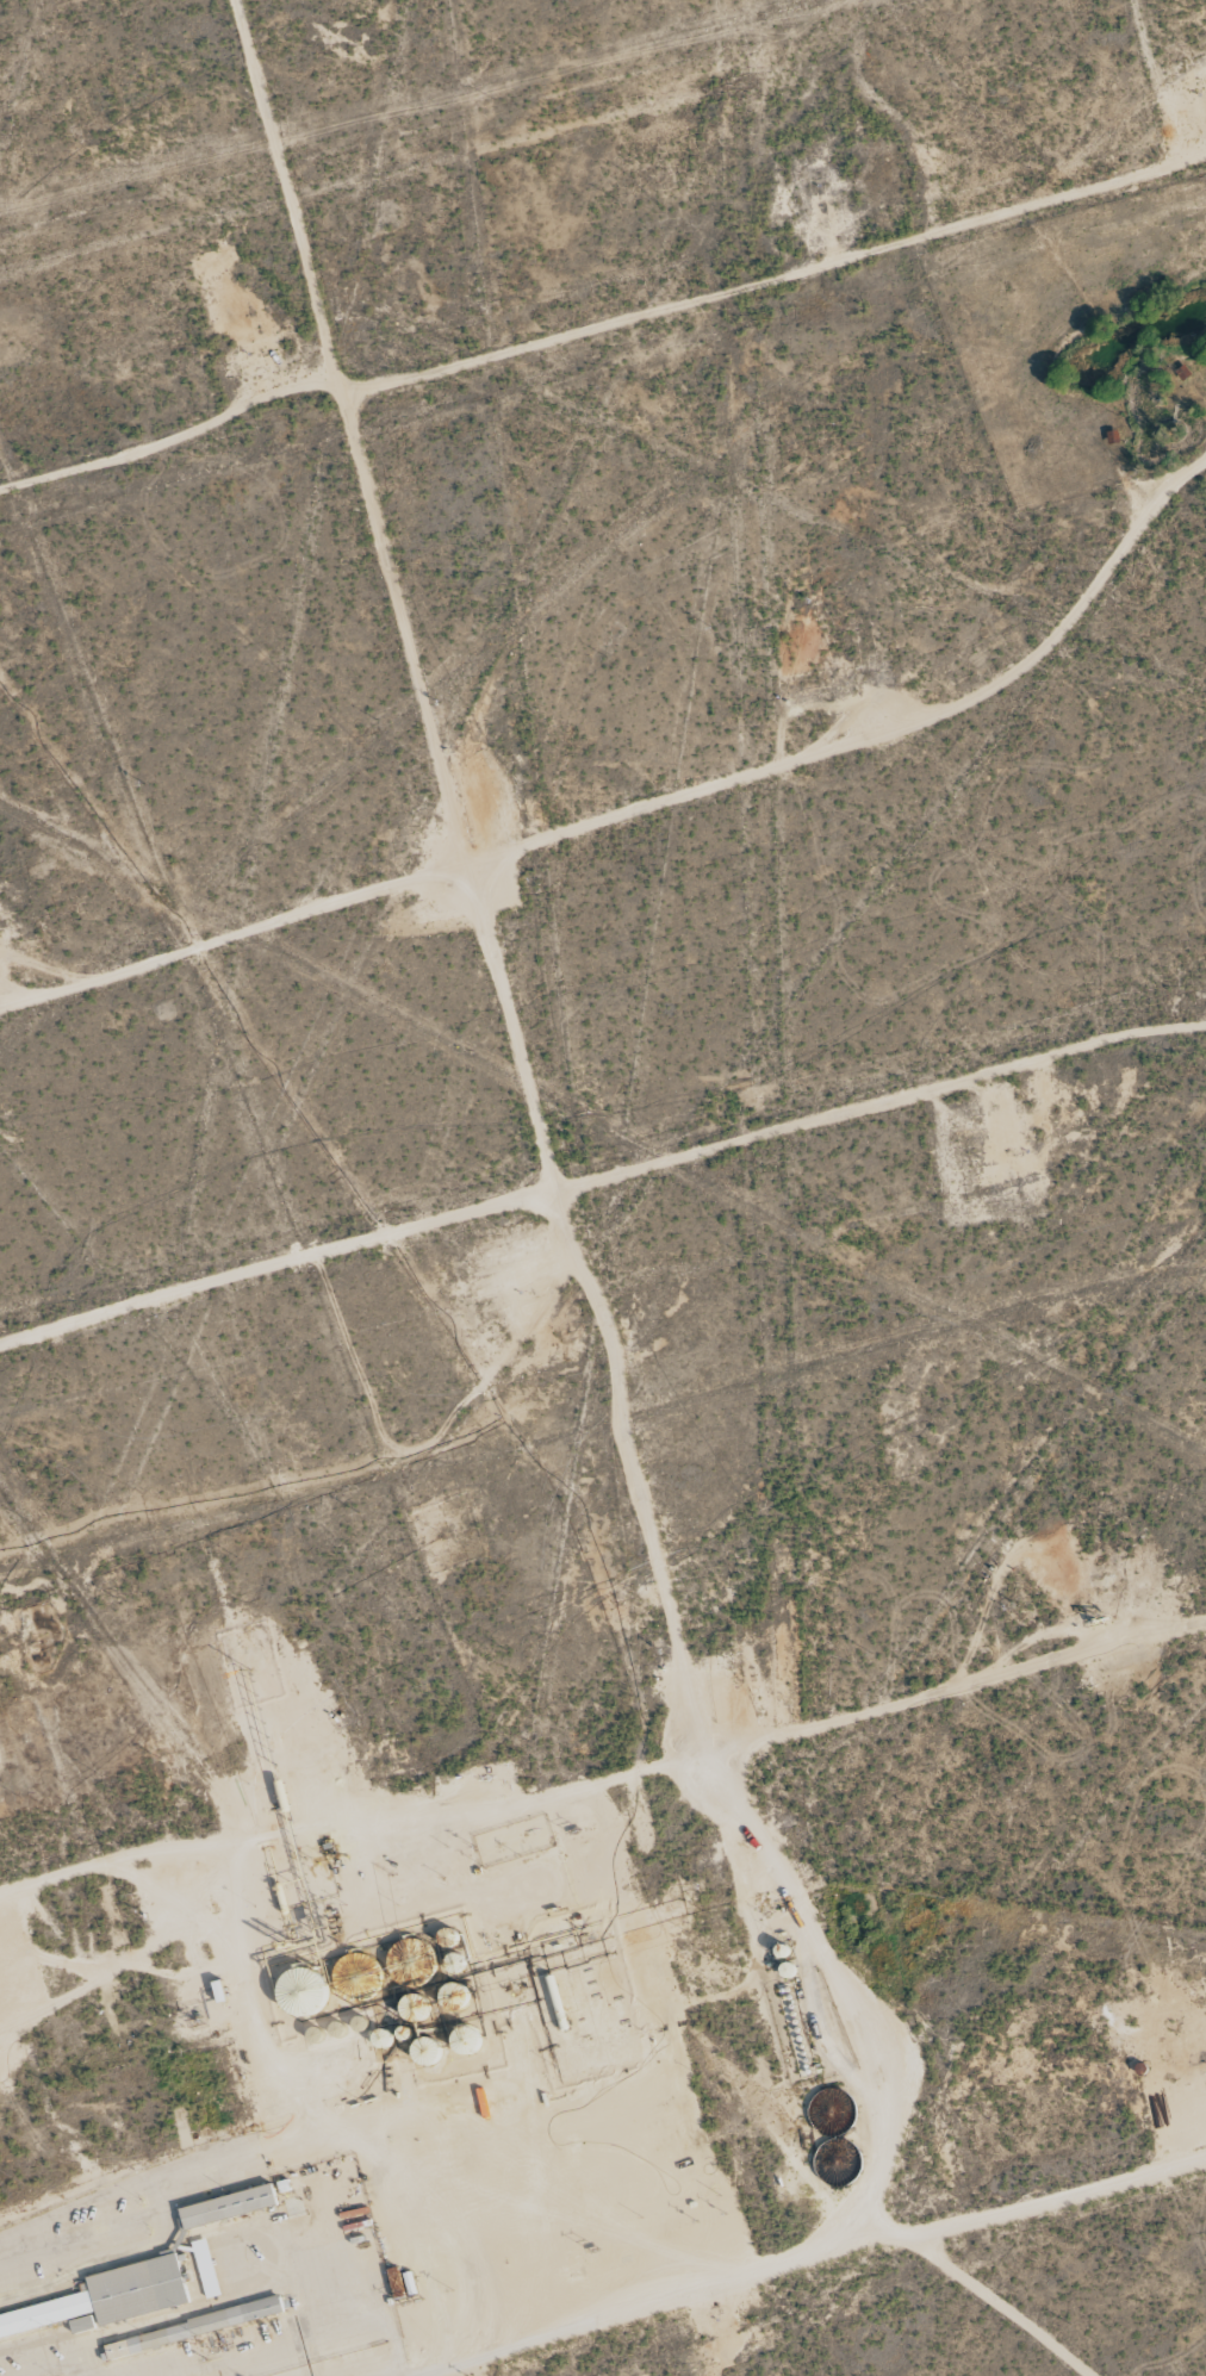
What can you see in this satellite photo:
building: (299, 1990)
building: (226, 2206)
building: (205, 2268)
building: (108, 2296)
building: (81, 2322)
road: (33, 2341)

